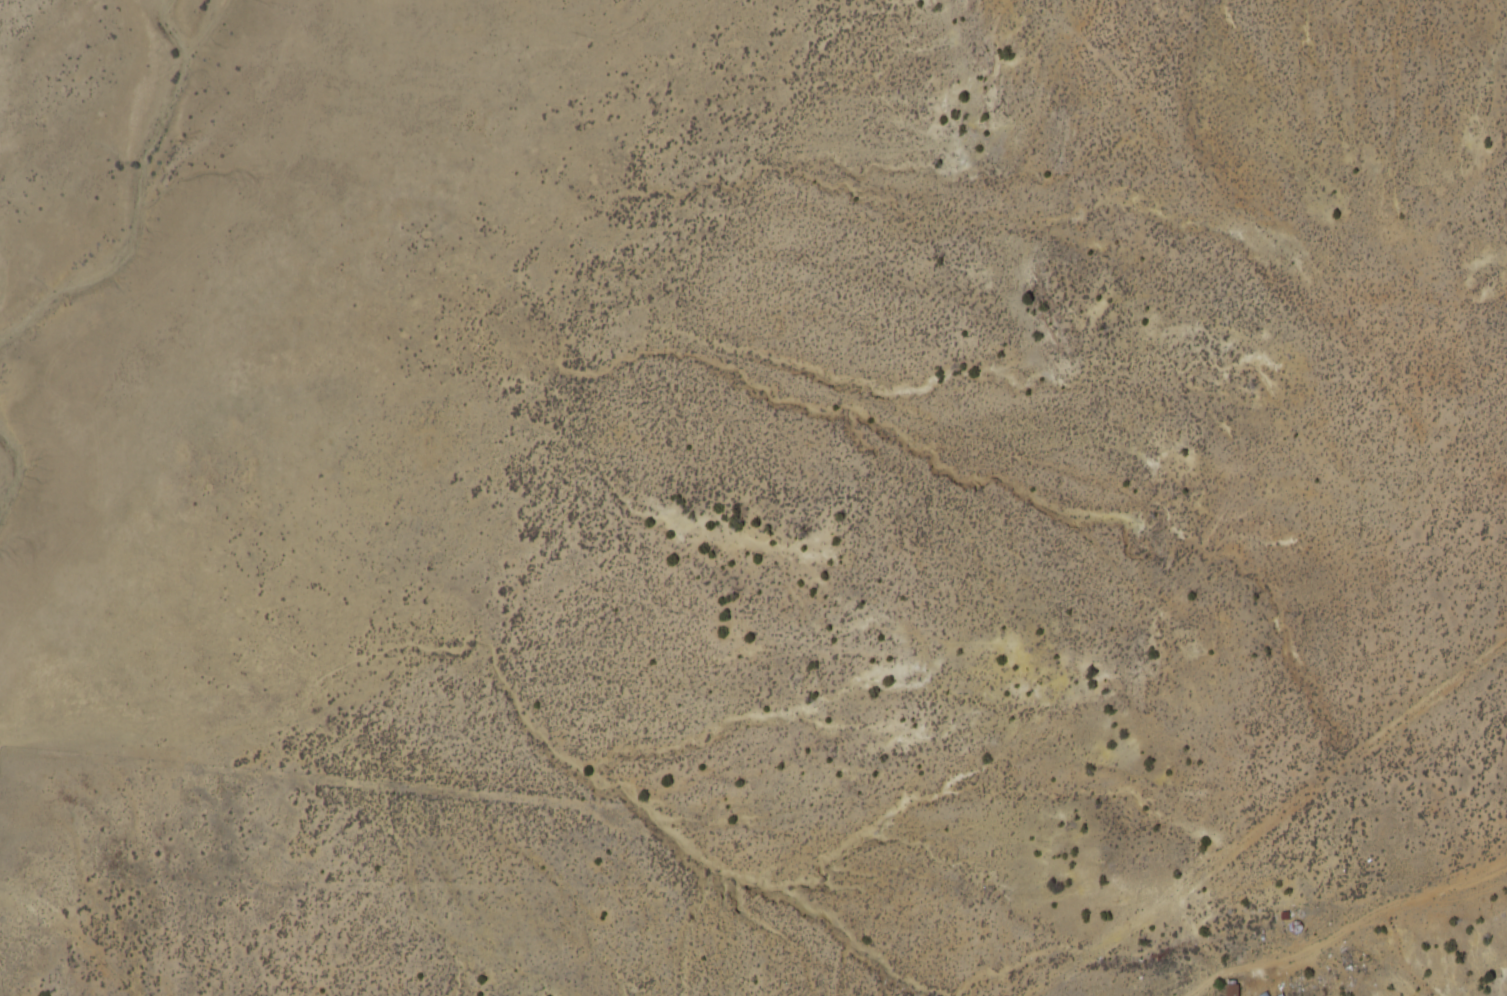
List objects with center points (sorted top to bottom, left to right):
road: (1375, 910)
road: (1241, 988)
building: (1232, 989)

